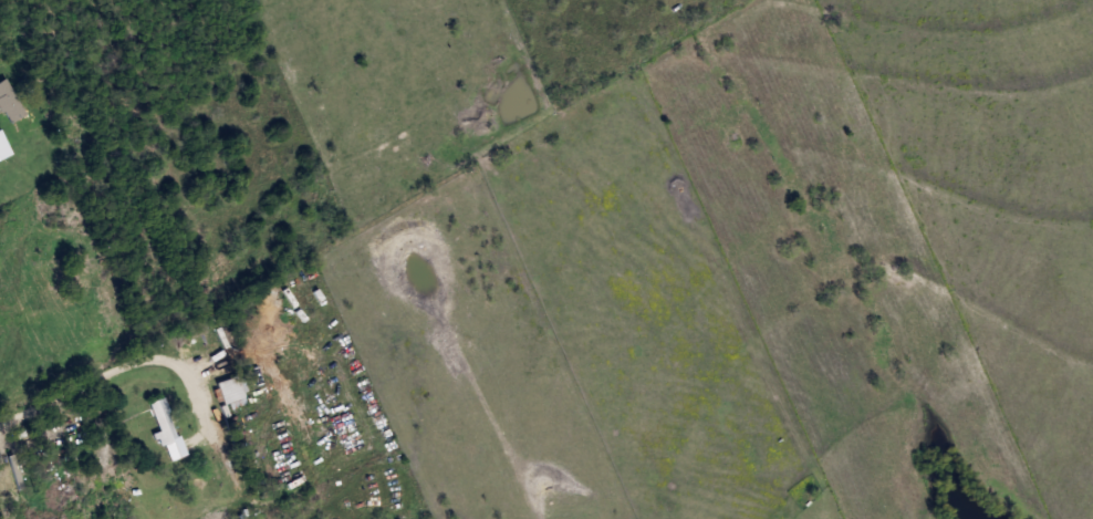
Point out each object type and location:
building: (9, 104)
building: (65, 276)
road: (174, 346)
building: (230, 393)
building: (160, 421)

